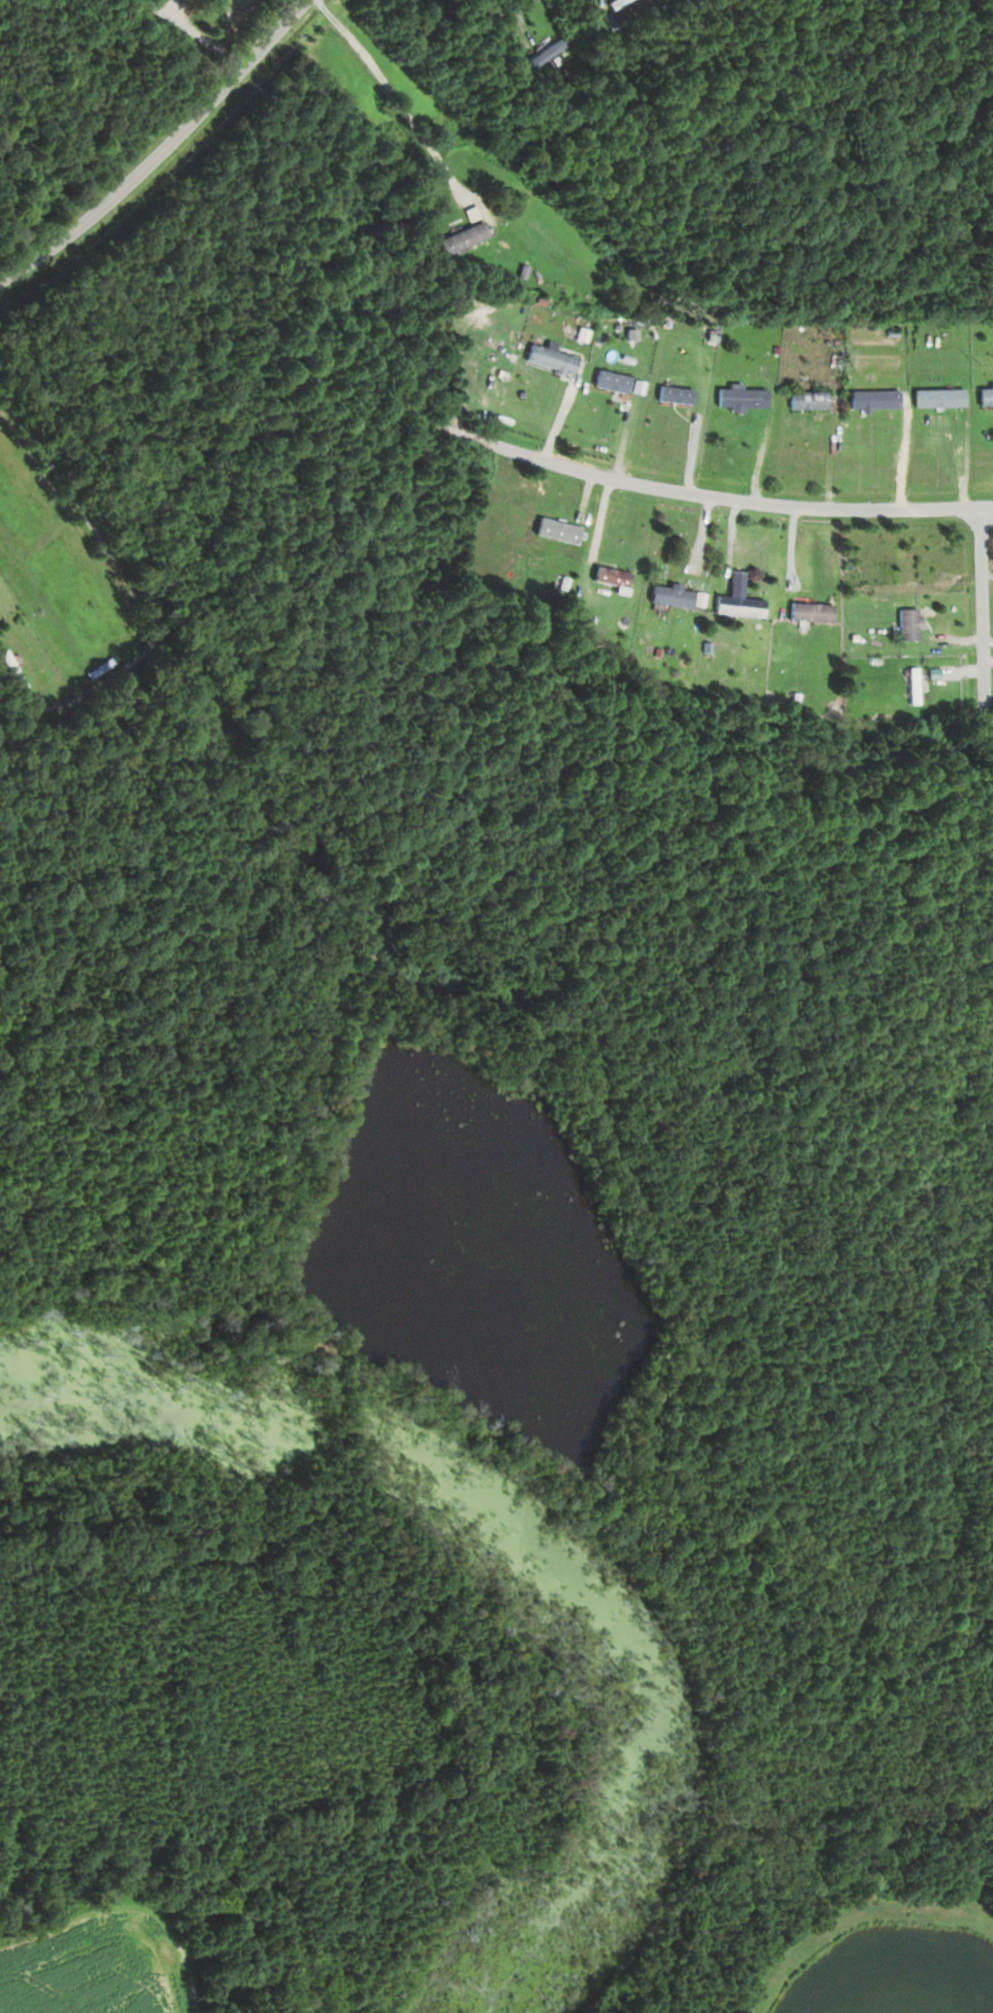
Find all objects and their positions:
building: (545, 56)
road: (164, 153)
building: (473, 213)
building: (463, 237)
building: (551, 359)
building: (613, 381)
building: (676, 394)
building: (986, 396)
building: (743, 397)
building: (939, 397)
building: (875, 398)
building: (808, 399)
road: (703, 496)
building: (558, 530)
building: (907, 560)
building: (611, 576)
building: (676, 596)
building: (740, 605)
building: (811, 611)
road: (987, 615)
building: (909, 623)
building: (13, 669)
building: (914, 685)
road: (490, 1350)

